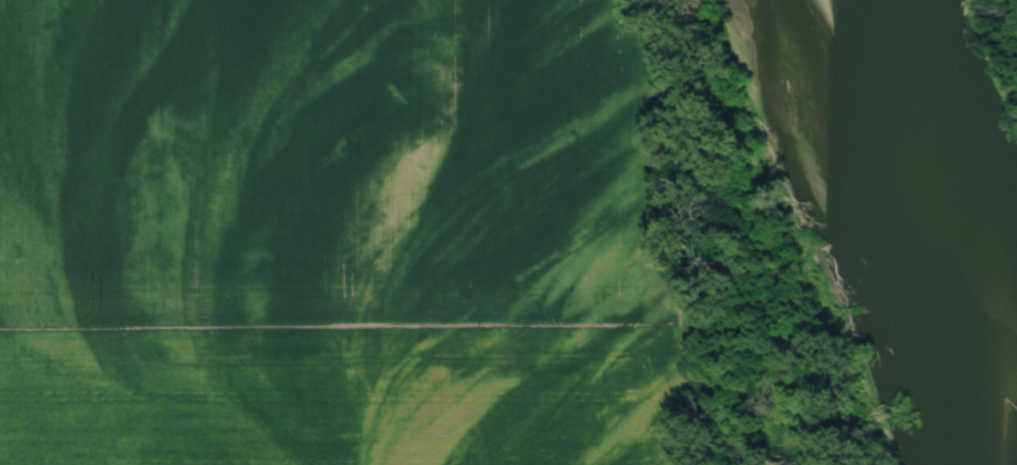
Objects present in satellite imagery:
river: (924, 232)

